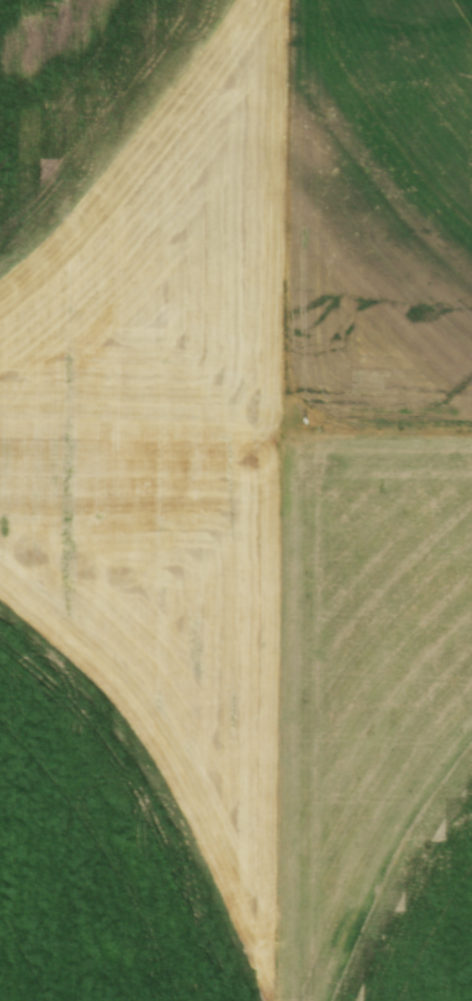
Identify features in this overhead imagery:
crop: (452, 27)
crop: (205, 560)

